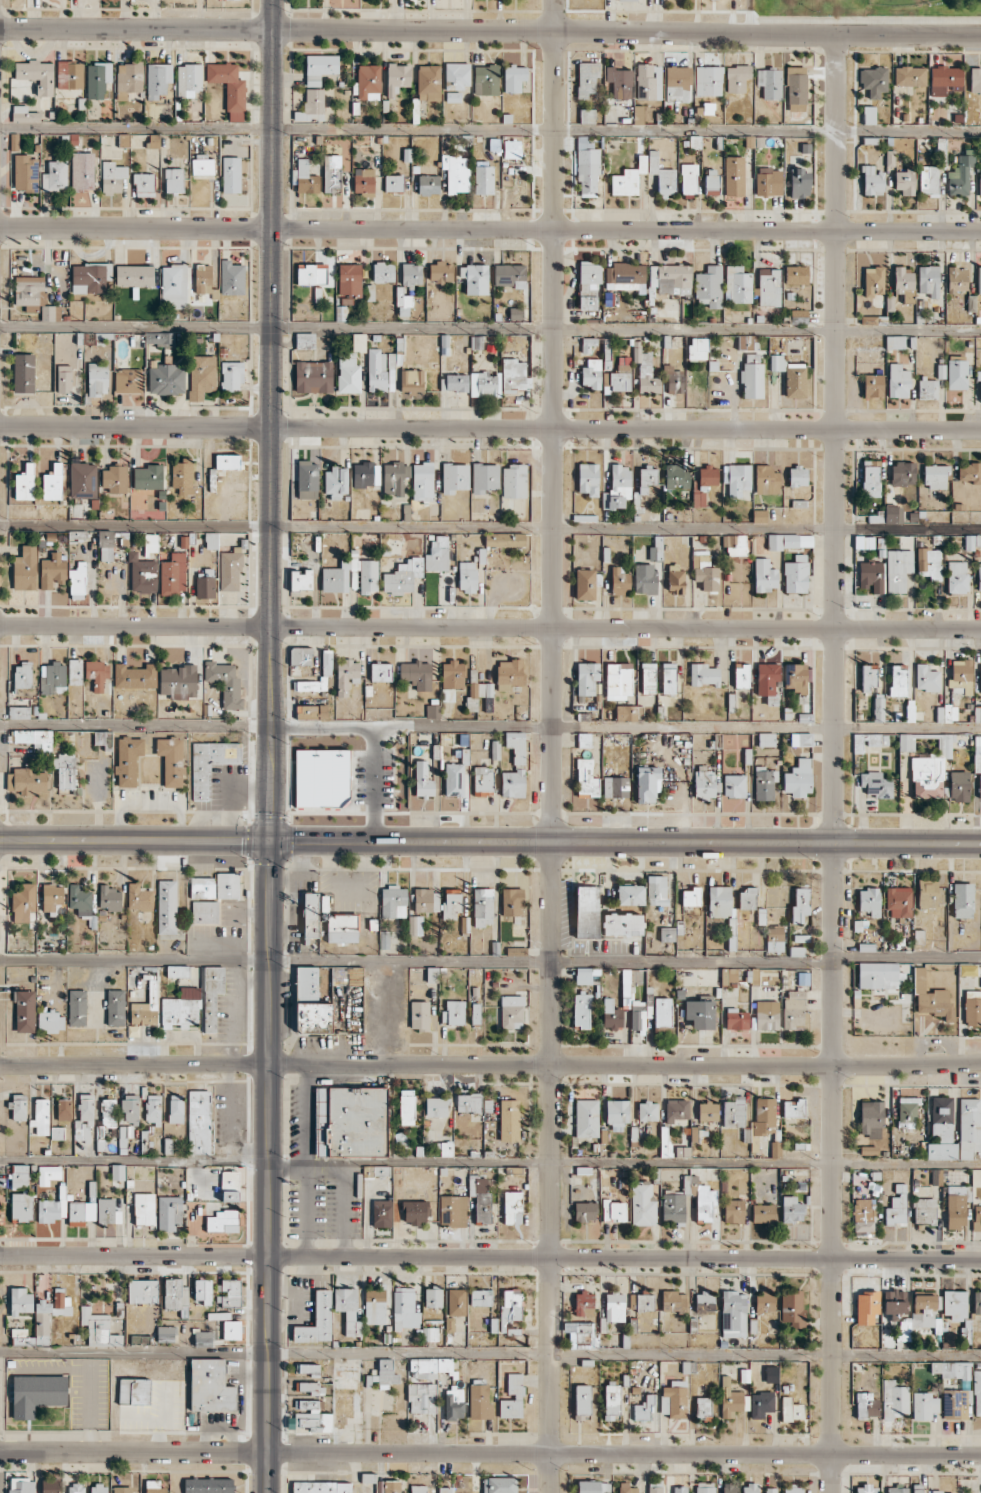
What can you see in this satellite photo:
building: (627, 0)
park: (899, 3)
park: (866, 11)
road: (274, 15)
road: (137, 30)
road: (627, 32)
building: (320, 67)
building: (37, 75)
building: (69, 75)
building: (457, 75)
building: (909, 76)
building: (129, 77)
building: (397, 78)
building: (514, 78)
building: (737, 78)
building: (97, 79)
building: (158, 79)
building: (587, 79)
building: (188, 80)
building: (486, 80)
building: (708, 80)
building: (945, 80)
building: (975, 80)
building: (873, 81)
building: (368, 82)
building: (428, 82)
building: (620, 82)
building: (648, 82)
building: (677, 83)
building: (769, 83)
building: (228, 87)
building: (796, 88)
building: (452, 96)
building: (311, 105)
building: (23, 114)
building: (638, 114)
building: (868, 115)
building: (587, 116)
road: (490, 131)
building: (123, 140)
building: (153, 141)
building: (512, 149)
building: (941, 152)
building: (202, 166)
building: (587, 167)
building: (82, 171)
building: (25, 173)
building: (332, 173)
building: (456, 173)
building: (55, 174)
building: (231, 174)
building: (960, 174)
building: (662, 175)
building: (734, 176)
building: (112, 177)
building: (304, 178)
building: (484, 178)
building: (628, 178)
building: (688, 179)
building: (928, 179)
building: (980, 179)
building: (174, 180)
building: (363, 181)
building: (711, 181)
building: (768, 181)
building: (872, 181)
building: (904, 181)
building: (393, 183)
building: (799, 183)
building: (428, 184)
building: (144, 185)
road: (490, 230)
building: (383, 272)
building: (440, 272)
building: (411, 274)
building: (796, 274)
building: (134, 275)
building: (308, 275)
building: (509, 275)
building: (629, 275)
building: (90, 277)
building: (203, 278)
building: (232, 278)
building: (475, 278)
building: (670, 279)
building: (957, 279)
building: (929, 280)
building: (873, 281)
building: (349, 283)
building: (904, 283)
building: (737, 284)
building: (588, 285)
building: (174, 286)
building: (709, 286)
building: (769, 287)
building: (30, 290)
building: (403, 300)
building: (971, 303)
building: (50, 313)
building: (515, 313)
building: (799, 316)
road: (490, 328)
building: (159, 338)
building: (304, 340)
building: (359, 342)
building: (894, 342)
building: (588, 345)
building: (698, 348)
building: (778, 362)
building: (381, 370)
building: (956, 372)
building: (23, 373)
building: (348, 373)
building: (646, 373)
building: (591, 374)
building: (231, 375)
building: (515, 375)
building: (201, 376)
building: (313, 376)
building: (979, 377)
building: (64, 379)
building: (97, 379)
building: (166, 379)
building: (128, 380)
building: (674, 380)
building: (752, 380)
building: (795, 380)
building: (411, 381)
building: (619, 381)
building: (898, 381)
building: (453, 382)
building: (484, 384)
building: (873, 385)
building: (927, 389)
road: (490, 427)
road: (271, 435)
building: (227, 461)
building: (969, 472)
building: (903, 473)
building: (366, 475)
building: (183, 476)
building: (675, 476)
building: (797, 476)
building: (935, 476)
building: (148, 477)
building: (454, 477)
building: (485, 477)
building: (115, 478)
building: (394, 478)
building: (647, 478)
building: (870, 478)
building: (588, 479)
building: (83, 480)
building: (307, 480)
building: (737, 480)
building: (766, 480)
building: (422, 481)
building: (513, 481)
building: (336, 482)
building: (25, 483)
building: (53, 483)
building: (703, 484)
building: (617, 487)
building: (893, 514)
building: (759, 516)
road: (490, 531)
building: (504, 539)
building: (211, 540)
building: (790, 541)
building: (150, 543)
building: (105, 545)
building: (735, 545)
building: (656, 549)
building: (438, 554)
building: (929, 563)
building: (25, 568)
building: (898, 569)
building: (52, 571)
building: (230, 571)
building: (704, 572)
building: (142, 574)
building: (173, 574)
building: (796, 574)
building: (765, 575)
building: (871, 575)
building: (338, 576)
building: (368, 576)
building: (403, 576)
building: (467, 577)
building: (957, 577)
building: (979, 577)
building: (645, 578)
building: (300, 579)
building: (675, 579)
building: (619, 580)
building: (77, 581)
building: (204, 584)
building: (585, 584)
road: (490, 628)
road: (835, 646)
building: (300, 656)
building: (326, 663)
building: (75, 671)
building: (380, 672)
building: (509, 673)
building: (416, 674)
building: (452, 674)
building: (704, 674)
building: (22, 675)
building: (97, 675)
building: (346, 675)
building: (741, 675)
building: (961, 675)
building: (134, 676)
building: (980, 676)
building: (795, 677)
building: (868, 677)
building: (52, 678)
building: (587, 678)
building: (648, 678)
building: (668, 678)
building: (767, 678)
building: (926, 678)
building: (618, 680)
building: (898, 680)
building: (178, 681)
building: (224, 683)
building: (478, 693)
building: (878, 709)
building: (432, 710)
building: (910, 710)
building: (311, 711)
building: (19, 712)
building: (628, 712)
building: (946, 713)
building: (977, 713)
road: (490, 727)
building: (104, 739)
building: (584, 739)
building: (766, 739)
building: (801, 739)
building: (36, 740)
building: (865, 741)
building: (906, 742)
road: (548, 746)
building: (977, 755)
building: (128, 760)
building: (171, 760)
building: (514, 767)
building: (931, 770)
building: (65, 772)
building: (321, 777)
building: (798, 778)
building: (454, 779)
building: (586, 779)
building: (27, 780)
building: (423, 780)
building: (483, 780)
building: (201, 782)
building: (647, 783)
building: (764, 783)
building: (704, 784)
building: (876, 784)
building: (617, 786)
building: (734, 786)
building: (958, 786)
building: (980, 786)
road: (135, 839)
road: (626, 841)
building: (227, 885)
building: (202, 887)
building: (656, 890)
building: (630, 894)
building: (927, 894)
building: (52, 896)
building: (691, 897)
building: (110, 898)
building: (139, 898)
building: (80, 899)
building: (747, 899)
building: (962, 900)
building: (23, 901)
building: (869, 901)
building: (393, 902)
building: (511, 902)
building: (899, 902)
building: (451, 903)
building: (800, 905)
building: (167, 907)
building: (483, 907)
building: (722, 908)
building: (204, 912)
building: (313, 912)
building: (586, 912)
building: (622, 924)
building: (415, 925)
building: (342, 928)
building: (667, 934)
building: (774, 939)
road: (907, 958)
road: (417, 962)
building: (177, 971)
building: (432, 974)
building: (585, 975)
building: (729, 975)
building: (878, 975)
building: (347, 976)
building: (625, 979)
building: (306, 984)
building: (212, 995)
building: (931, 999)
building: (77, 1007)
building: (115, 1007)
building: (181, 1008)
building: (972, 1008)
building: (794, 1009)
building: (581, 1010)
building: (25, 1011)
building: (145, 1011)
building: (511, 1011)
building: (453, 1012)
building: (662, 1012)
building: (475, 1013)
building: (699, 1013)
building: (611, 1014)
building: (419, 1015)
building: (637, 1015)
building: (767, 1015)
building: (313, 1017)
building: (736, 1019)
building: (50, 1021)
road: (490, 1064)
building: (468, 1102)
building: (436, 1106)
building: (18, 1107)
building: (406, 1107)
building: (130, 1108)
building: (176, 1108)
building: (793, 1108)
building: (63, 1109)
building: (152, 1109)
building: (677, 1109)
building: (647, 1111)
building: (708, 1111)
building: (108, 1112)
building: (734, 1112)
building: (907, 1112)
building: (617, 1113)
building: (41, 1116)
building: (764, 1116)
building: (586, 1118)
building: (871, 1118)
building: (941, 1118)
building: (84, 1119)
building: (509, 1120)
building: (199, 1121)
building: (350, 1121)
building: (969, 1129)
building: (57, 1133)
building: (124, 1135)
building: (446, 1149)
building: (682, 1151)
building: (942, 1151)
road: (490, 1162)
road: (269, 1166)
building: (118, 1172)
building: (48, 1174)
building: (19, 1177)
building: (229, 1181)
building: (700, 1197)
building: (480, 1198)
building: (642, 1203)
building: (956, 1205)
building: (512, 1207)
building: (897, 1207)
building: (144, 1208)
building: (673, 1209)
building: (792, 1209)
building: (51, 1210)
building: (82, 1210)
building: (452, 1210)
building: (925, 1210)
building: (585, 1211)
building: (614, 1211)
building: (733, 1211)
building: (169, 1212)
building: (415, 1212)
building: (382, 1213)
building: (763, 1213)
building: (864, 1214)
building: (977, 1218)
building: (222, 1221)
road: (490, 1257)
building: (142, 1291)
building: (202, 1292)
building: (228, 1292)
building: (174, 1294)
building: (433, 1297)
building: (481, 1297)
building: (20, 1300)
building: (673, 1301)
building: (456, 1302)
building: (644, 1302)
building: (704, 1302)
building: (765, 1302)
building: (977, 1302)
building: (584, 1303)
building: (894, 1303)
building: (955, 1305)
building: (375, 1306)
building: (866, 1307)
building: (405, 1308)
building: (792, 1308)
building: (510, 1309)
building: (348, 1310)
building: (925, 1310)
building: (50, 1314)
building: (733, 1314)
building: (317, 1320)
building: (98, 1328)
building: (231, 1330)
building: (166, 1334)
building: (430, 1334)
building: (581, 1335)
building: (203, 1338)
road: (490, 1356)
building: (429, 1367)
building: (310, 1369)
building: (951, 1369)
building: (385, 1374)
building: (771, 1374)
road: (832, 1375)
building: (210, 1386)
building: (312, 1388)
building: (134, 1391)
building: (977, 1392)
building: (37, 1394)
building: (512, 1397)
building: (422, 1398)
building: (731, 1399)
building: (674, 1400)
building: (894, 1400)
building: (479, 1402)
building: (582, 1402)
building: (611, 1402)
building: (454, 1403)
building: (761, 1404)
building: (866, 1404)
building: (955, 1404)
building: (925, 1406)
building: (703, 1407)
building: (644, 1409)
building: (791, 1409)
building: (311, 1418)
road: (490, 1453)
building: (367, 1477)
building: (22, 1485)
building: (208, 1485)
building: (499, 1485)
building: (50, 1486)
building: (387, 1486)
building: (154, 1487)
building: (321, 1487)
building: (593, 1487)
building: (655, 1487)
building: (705, 1487)
building: (730, 1487)
building: (76, 1488)
building: (98, 1488)
building: (418, 1488)
building: (627, 1488)
building: (750, 1488)
building: (918, 1488)
building: (122, 1489)
building: (444, 1489)
building: (680, 1489)
building: (793, 1489)
building: (867, 1489)
building: (770, 1490)
building: (898, 1490)
building: (942, 1492)

